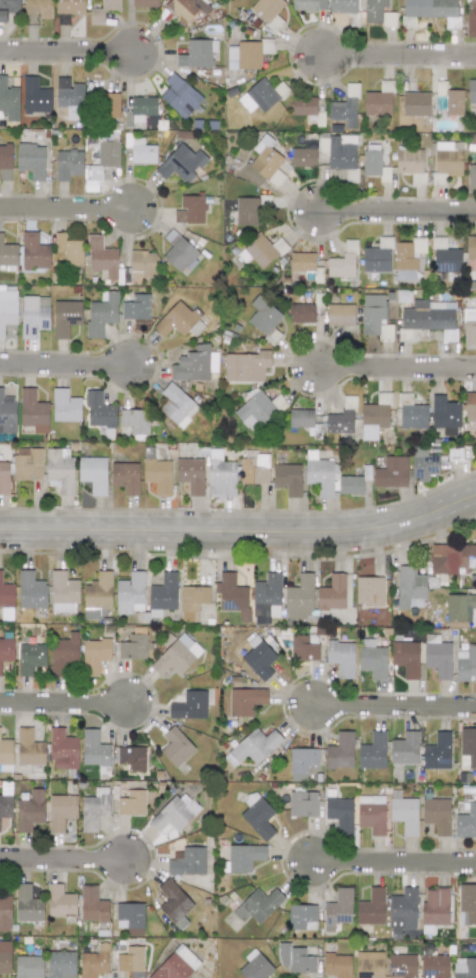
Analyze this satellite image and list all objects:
building: (144, 3)
building: (309, 5)
building: (343, 6)
building: (8, 8)
building: (184, 9)
building: (37, 10)
building: (68, 10)
building: (103, 11)
building: (268, 11)
building: (431, 11)
building: (379, 13)
building: (471, 19)
road: (69, 50)
building: (197, 54)
building: (247, 54)
road: (398, 55)
building: (471, 91)
building: (68, 94)
building: (262, 95)
building: (35, 96)
building: (179, 96)
building: (8, 100)
building: (378, 101)
building: (450, 101)
building: (416, 103)
building: (108, 105)
building: (304, 106)
building: (345, 108)
building: (342, 153)
building: (303, 157)
building: (448, 158)
building: (31, 160)
building: (372, 160)
building: (266, 161)
building: (5, 162)
building: (181, 163)
building: (411, 163)
building: (67, 164)
building: (102, 164)
building: (471, 177)
road: (68, 208)
building: (191, 209)
building: (247, 211)
road: (397, 212)
building: (471, 247)
building: (69, 249)
building: (264, 250)
building: (34, 252)
building: (179, 252)
building: (7, 254)
building: (101, 257)
building: (377, 257)
building: (407, 258)
building: (446, 260)
building: (302, 262)
building: (343, 262)
building: (142, 264)
building: (475, 299)
building: (136, 307)
building: (7, 309)
building: (302, 313)
building: (101, 314)
building: (340, 314)
building: (34, 315)
building: (263, 315)
building: (429, 316)
building: (65, 317)
building: (375, 317)
building: (178, 321)
building: (469, 334)
road: (68, 363)
building: (194, 364)
road: (398, 365)
building: (246, 366)
building: (177, 405)
building: (65, 406)
building: (470, 406)
building: (99, 410)
building: (255, 410)
building: (33, 411)
building: (7, 413)
building: (445, 414)
building: (375, 415)
building: (301, 418)
building: (135, 420)
building: (340, 422)
building: (27, 463)
building: (423, 463)
building: (60, 468)
building: (254, 469)
building: (391, 472)
building: (93, 474)
building: (320, 474)
building: (158, 475)
building: (190, 475)
building: (125, 477)
building: (4, 478)
building: (287, 479)
building: (350, 485)
road: (241, 530)
building: (452, 558)
building: (409, 586)
building: (31, 591)
building: (98, 591)
building: (369, 591)
building: (63, 592)
building: (6, 593)
building: (130, 593)
building: (332, 593)
building: (162, 594)
building: (232, 595)
building: (266, 598)
building: (300, 598)
building: (192, 601)
building: (459, 610)
building: (94, 613)
building: (133, 647)
building: (304, 647)
building: (6, 649)
building: (63, 653)
building: (31, 655)
building: (95, 655)
building: (177, 656)
building: (437, 656)
building: (341, 657)
building: (406, 657)
building: (259, 658)
building: (373, 660)
building: (466, 664)
building: (245, 701)
road: (65, 704)
road: (397, 704)
building: (189, 706)
building: (175, 746)
building: (255, 746)
building: (404, 748)
building: (468, 748)
building: (29, 749)
building: (62, 749)
building: (94, 750)
building: (340, 751)
building: (373, 751)
building: (437, 752)
building: (132, 758)
building: (301, 763)
building: (5, 801)
building: (132, 803)
building: (303, 804)
building: (94, 809)
building: (30, 810)
building: (61, 810)
building: (175, 812)
building: (339, 812)
building: (371, 813)
building: (404, 814)
building: (437, 814)
building: (258, 815)
building: (466, 822)
building: (244, 857)
road: (65, 859)
building: (187, 861)
road: (397, 861)
building: (60, 902)
building: (27, 904)
building: (174, 904)
building: (467, 904)
building: (92, 905)
building: (257, 905)
building: (371, 908)
building: (338, 909)
building: (5, 912)
building: (302, 917)
building: (130, 918)
building: (5, 957)
building: (130, 959)
building: (295, 959)
building: (94, 962)
building: (61, 964)
building: (176, 965)
building: (337, 965)
building: (369, 965)
building: (28, 966)
building: (255, 966)
building: (401, 966)
building: (434, 966)
building: (464, 968)

